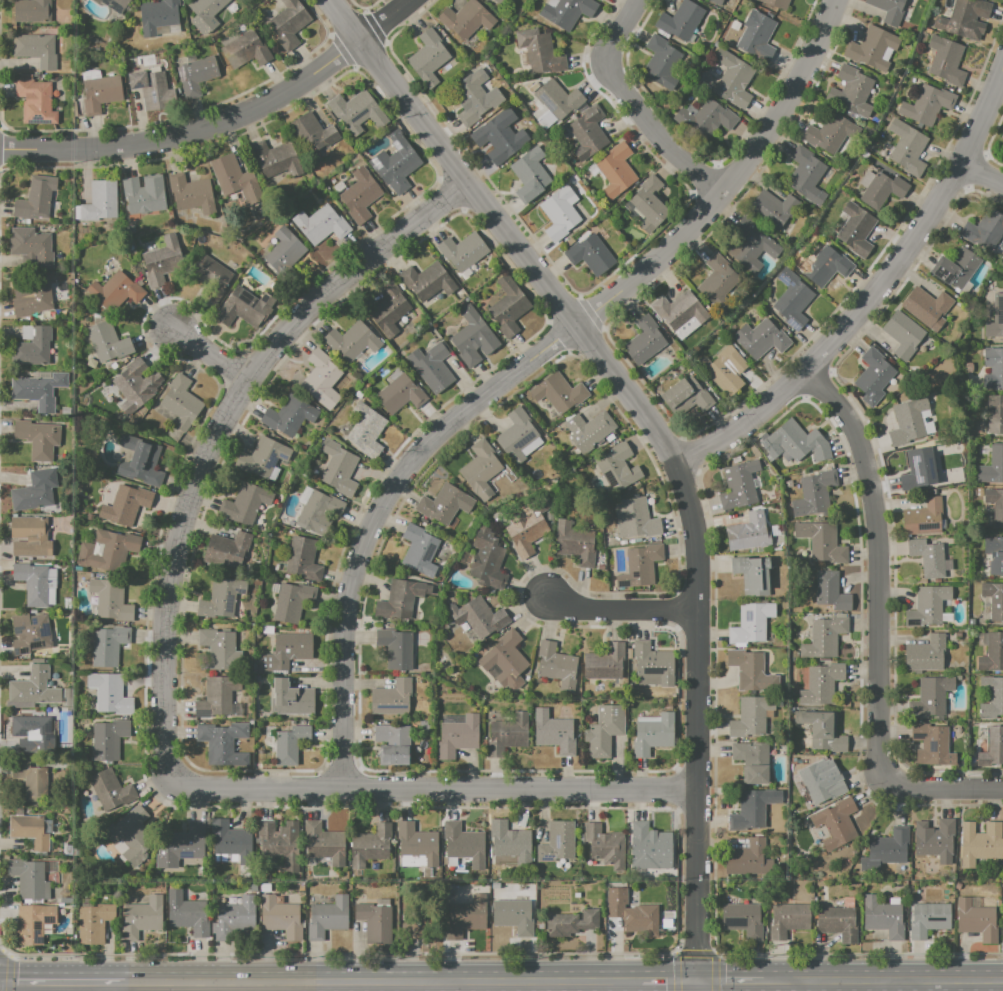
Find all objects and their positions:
building: (498, 2)
building: (717, 2)
building: (776, 3)
building: (115, 5)
building: (33, 9)
building: (889, 11)
building: (568, 12)
building: (205, 15)
building: (158, 17)
building: (965, 19)
building: (465, 20)
building: (681, 20)
building: (288, 23)
building: (756, 37)
building: (872, 48)
building: (35, 49)
building: (249, 49)
building: (540, 51)
building: (428, 58)
building: (945, 60)
building: (661, 61)
building: (195, 76)
building: (733, 79)
building: (149, 88)
building: (852, 92)
building: (100, 93)
building: (558, 98)
building: (472, 99)
building: (35, 102)
building: (926, 104)
road: (634, 110)
building: (356, 111)
building: (711, 118)
road: (220, 123)
building: (311, 133)
building: (588, 133)
building: (827, 133)
building: (1001, 135)
building: (499, 137)
building: (907, 148)
building: (269, 160)
building: (395, 163)
building: (224, 166)
building: (616, 170)
building: (529, 175)
building: (806, 176)
road: (981, 176)
road: (730, 182)
building: (881, 188)
building: (187, 192)
building: (145, 193)
building: (360, 195)
building: (35, 197)
building: (100, 202)
building: (650, 204)
building: (773, 210)
building: (559, 213)
building: (321, 225)
building: (984, 230)
building: (856, 231)
building: (751, 245)
building: (31, 248)
building: (463, 251)
building: (283, 253)
building: (590, 254)
building: (162, 262)
building: (824, 265)
building: (957, 269)
building: (212, 279)
building: (718, 280)
building: (427, 281)
building: (117, 292)
road: (872, 292)
building: (31, 297)
building: (790, 300)
building: (508, 306)
building: (927, 307)
building: (244, 308)
building: (389, 309)
building: (679, 309)
building: (995, 318)
building: (903, 335)
building: (473, 338)
building: (760, 339)
building: (352, 341)
building: (644, 341)
building: (108, 343)
building: (33, 348)
road: (210, 354)
building: (431, 368)
building: (993, 368)
building: (727, 371)
building: (873, 376)
building: (322, 381)
building: (135, 387)
building: (34, 393)
building: (559, 393)
building: (400, 395)
building: (687, 396)
building: (181, 403)
building: (995, 415)
building: (288, 417)
building: (908, 420)
building: (366, 430)
building: (590, 430)
road: (217, 433)
building: (516, 435)
road: (660, 437)
building: (38, 439)
building: (797, 442)
building: (263, 457)
building: (139, 461)
building: (992, 466)
building: (480, 467)
building: (338, 468)
building: (617, 468)
building: (919, 468)
building: (739, 485)
building: (33, 493)
building: (814, 493)
building: (244, 504)
building: (445, 504)
building: (995, 505)
building: (125, 506)
building: (319, 512)
road: (376, 513)
building: (923, 517)
building: (635, 518)
building: (526, 527)
building: (748, 532)
building: (32, 535)
building: (822, 541)
building: (575, 543)
building: (16, 550)
building: (227, 551)
building: (419, 551)
building: (104, 552)
building: (993, 554)
building: (927, 556)
building: (303, 559)
building: (488, 560)
building: (640, 565)
building: (752, 575)
building: (35, 583)
building: (831, 591)
building: (400, 599)
building: (994, 599)
building: (110, 600)
building: (220, 600)
building: (294, 602)
building: (928, 606)
road: (618, 608)
building: (478, 617)
building: (751, 623)
road: (879, 626)
building: (30, 634)
building: (824, 637)
building: (108, 645)
building: (218, 648)
building: (395, 648)
building: (990, 651)
building: (285, 652)
building: (925, 654)
building: (505, 661)
building: (604, 662)
building: (653, 664)
building: (557, 666)
building: (751, 671)
building: (820, 684)
building: (33, 688)
building: (108, 694)
building: (216, 697)
building: (930, 697)
building: (991, 697)
building: (392, 698)
building: (292, 699)
building: (750, 716)
building: (33, 730)
building: (604, 730)
building: (822, 730)
building: (509, 732)
building: (554, 732)
building: (653, 734)
building: (456, 739)
building: (108, 740)
building: (222, 744)
building: (290, 744)
building: (930, 744)
building: (392, 745)
building: (991, 747)
building: (751, 761)
building: (31, 781)
building: (820, 784)
road: (436, 787)
building: (110, 790)
building: (751, 810)
building: (836, 823)
building: (29, 832)
building: (129, 839)
building: (935, 840)
building: (232, 842)
building: (510, 842)
building: (558, 842)
building: (324, 843)
building: (980, 843)
building: (373, 844)
building: (416, 844)
building: (278, 845)
building: (463, 845)
building: (605, 846)
building: (181, 847)
building: (650, 847)
building: (889, 847)
building: (746, 858)
building: (28, 880)
building: (620, 896)
building: (514, 916)
building: (883, 917)
building: (189, 918)
building: (141, 919)
building: (235, 919)
building: (280, 919)
building: (327, 919)
building: (466, 919)
building: (641, 919)
building: (928, 919)
building: (742, 920)
building: (787, 920)
building: (976, 920)
building: (838, 922)
building: (374, 923)
building: (571, 923)
building: (34, 925)
building: (94, 925)
road: (4, 950)
road: (0, 951)
road: (674, 951)
traffic signals: (697, 951)
road: (694, 954)
road: (8, 971)
road: (675, 972)
road: (714, 973)
road: (883, 980)
road: (62, 981)
road: (729, 981)
road: (383, 982)
traffic signals: (667, 982)
road: (669, 982)
traffic signals: (719, 982)
road: (926, 985)
road: (93, 986)
road: (283, 986)
road: (427, 986)
road: (474, 986)
road: (698, 986)
road: (805, 986)
road: (877, 986)

